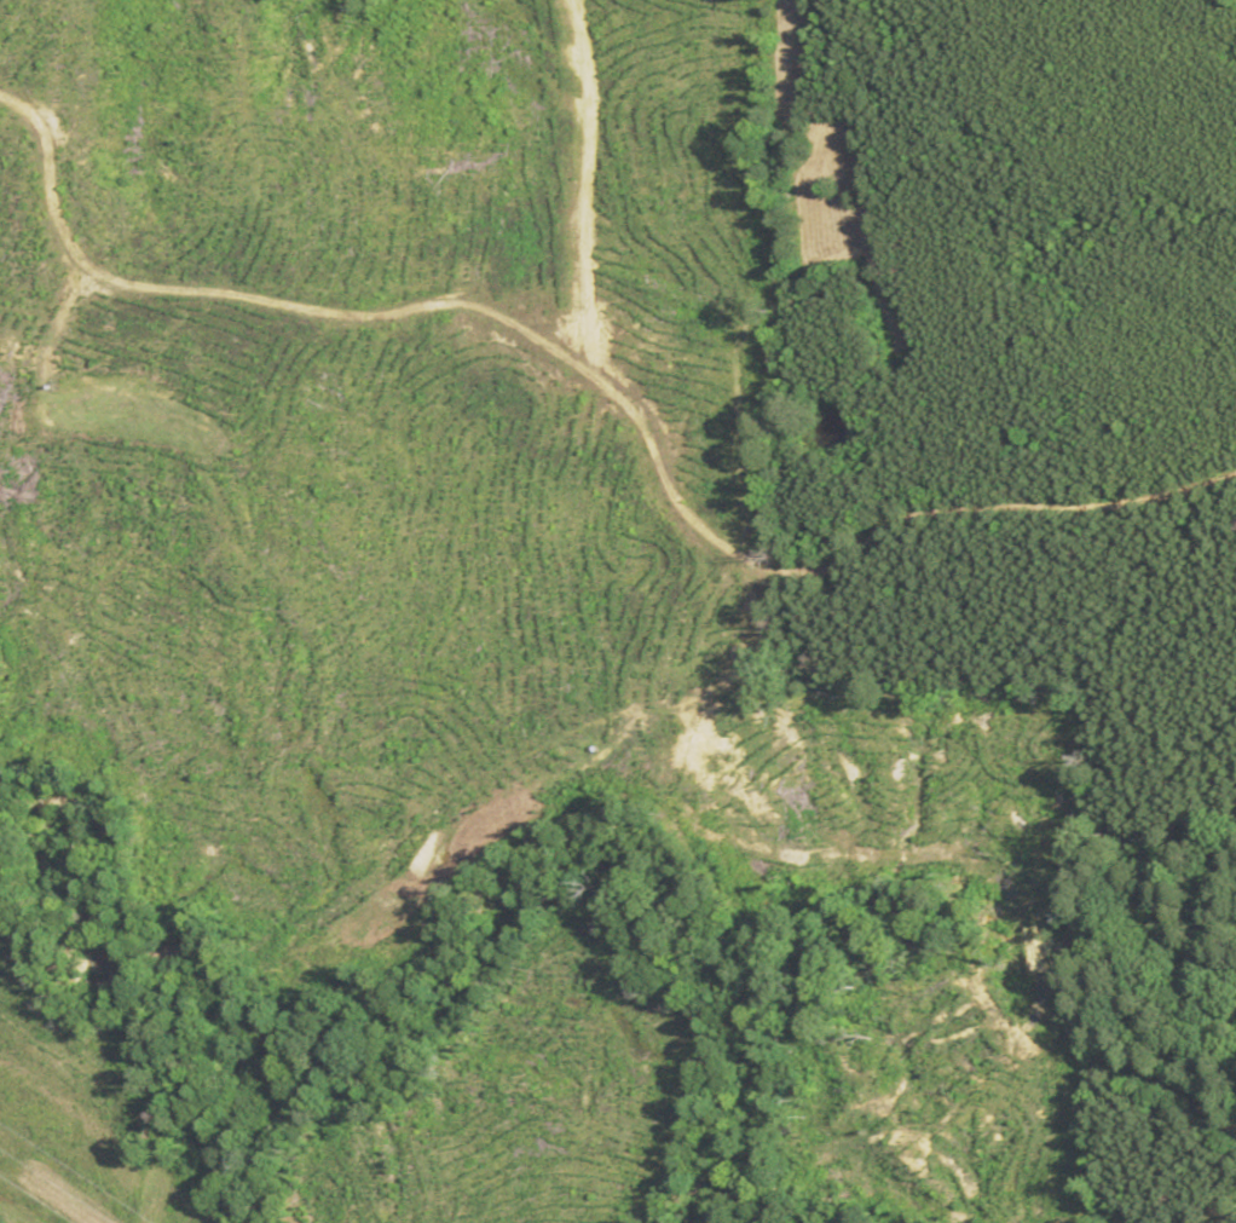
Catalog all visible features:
road: (884, 598)

